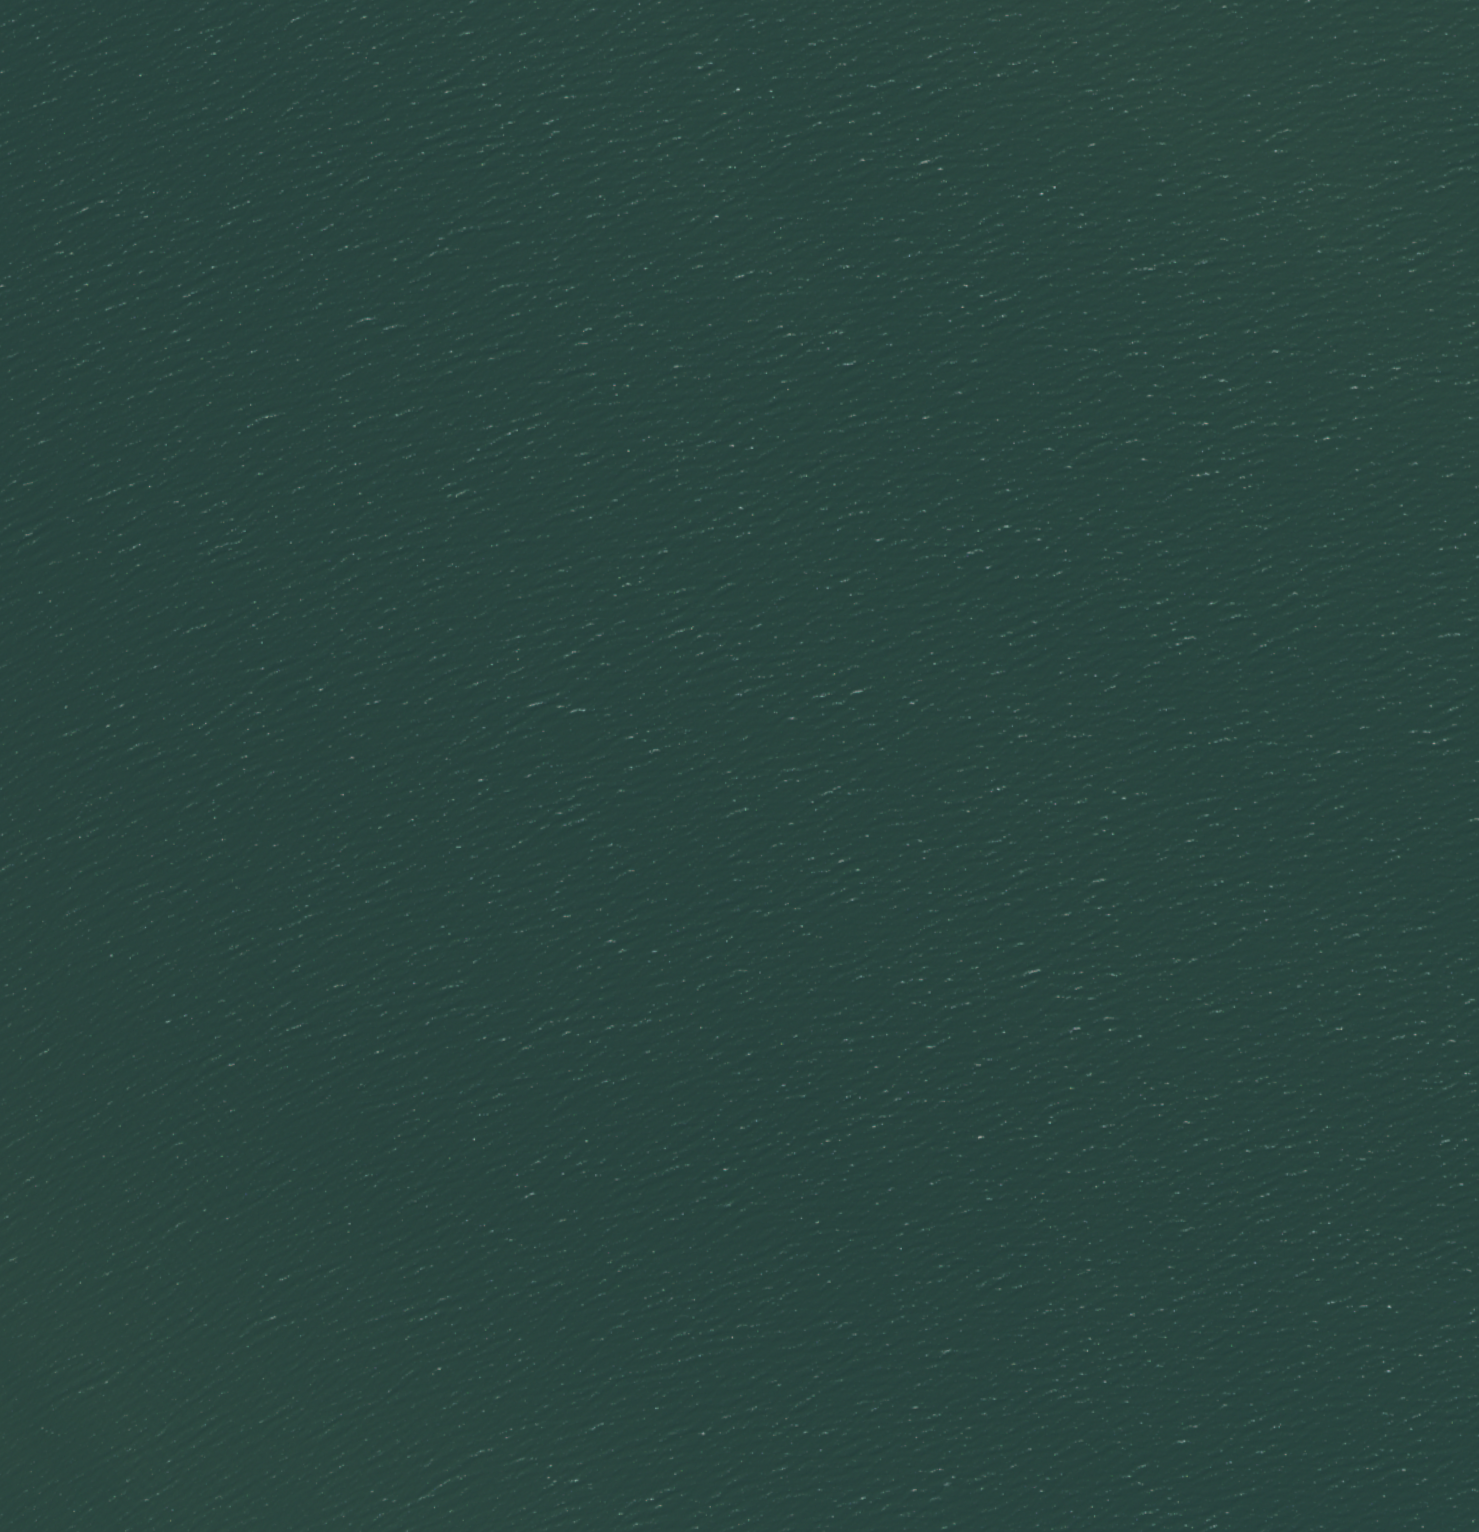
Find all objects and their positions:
river: (560, 1377)

